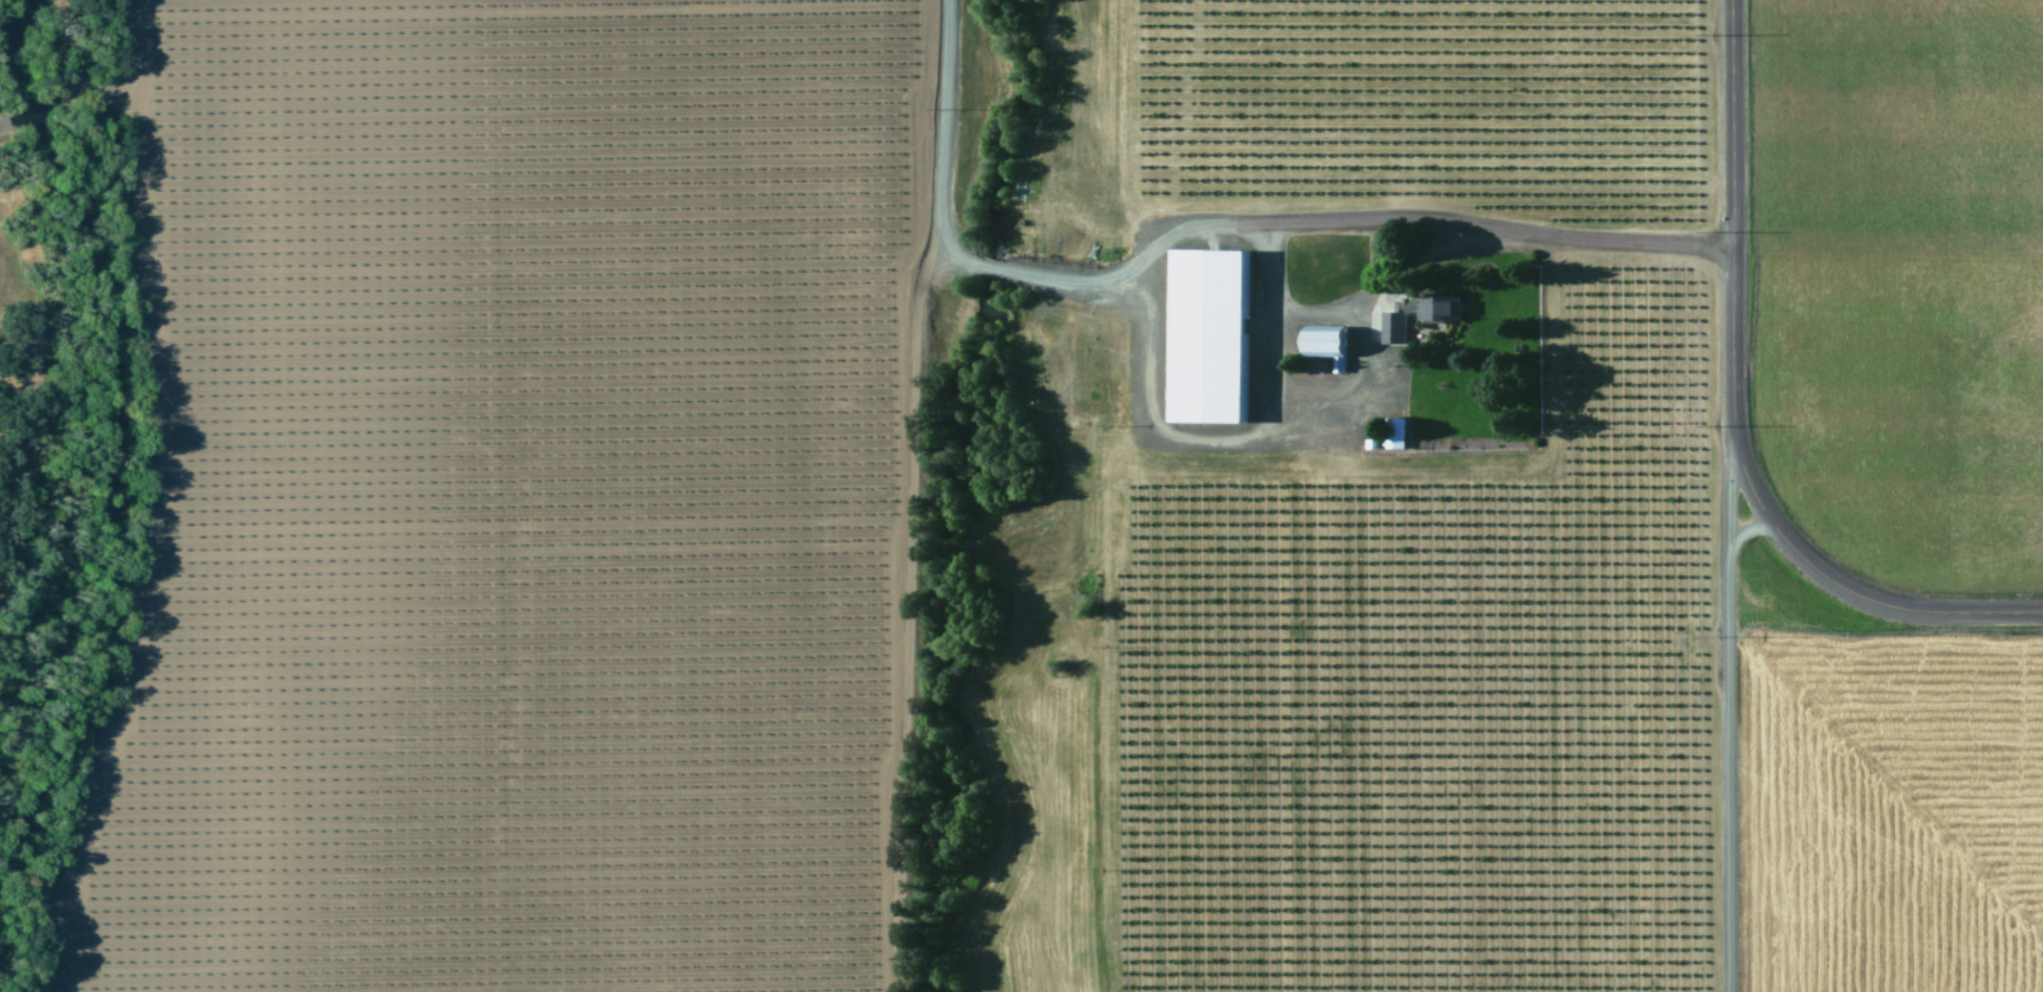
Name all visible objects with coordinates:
building: (1420, 314)
crop: (1566, 318)
building: (1332, 343)
road: (1728, 419)
crop: (509, 504)
road: (1728, 709)
crop: (1577, 816)

